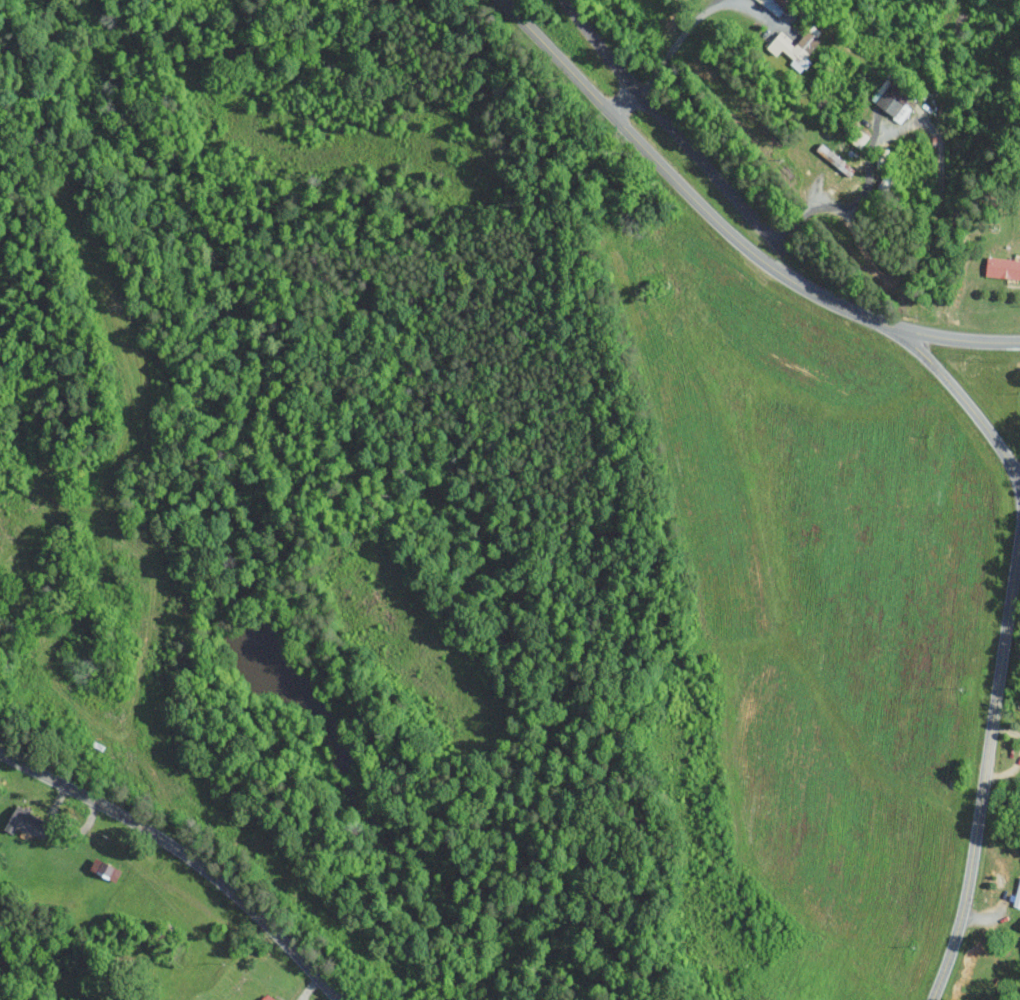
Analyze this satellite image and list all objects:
building: (773, 5)
road: (691, 24)
building: (795, 46)
building: (890, 99)
road: (625, 103)
road: (672, 129)
building: (858, 138)
road: (851, 205)
road: (727, 230)
building: (1002, 267)
road: (959, 397)
road: (985, 768)
building: (23, 821)
road: (184, 855)
building: (103, 869)
building: (266, 997)

